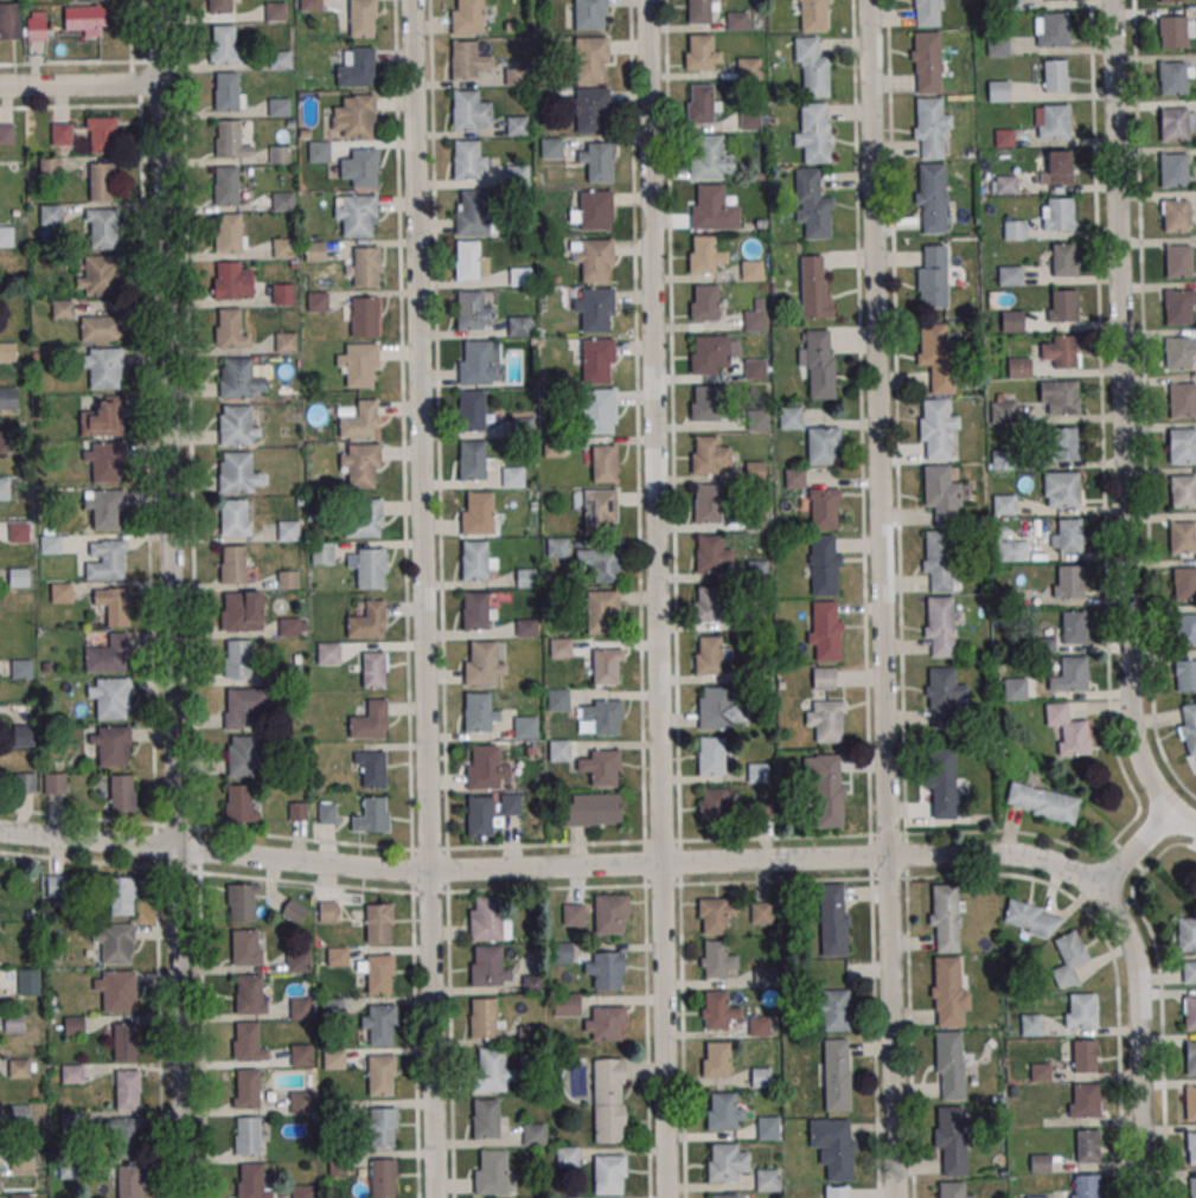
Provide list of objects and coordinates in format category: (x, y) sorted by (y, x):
building: (1168, 0)
building: (311, 5)
building: (1009, 5)
building: (219, 6)
building: (276, 11)
building: (701, 11)
building: (926, 13)
building: (590, 14)
building: (811, 15)
building: (362, 17)
building: (467, 17)
building: (9, 20)
building: (84, 20)
building: (736, 20)
building: (36, 30)
building: (1050, 30)
building: (1172, 31)
building: (222, 44)
building: (997, 46)
building: (702, 52)
building: (281, 59)
building: (465, 59)
building: (589, 59)
building: (926, 63)
building: (356, 65)
building: (811, 66)
building: (748, 68)
building: (1055, 75)
building: (516, 76)
building: (1172, 77)
road: (78, 84)
building: (998, 90)
building: (226, 91)
building: (701, 103)
building: (591, 109)
building: (466, 110)
building: (354, 116)
building: (749, 118)
building: (1050, 121)
building: (1173, 123)
building: (517, 124)
building: (930, 127)
building: (813, 132)
building: (62, 133)
building: (6, 134)
building: (101, 134)
building: (228, 139)
building: (551, 148)
building: (319, 150)
building: (280, 154)
building: (466, 159)
building: (709, 159)
building: (596, 161)
building: (50, 167)
building: (1055, 167)
building: (360, 168)
building: (1173, 169)
building: (517, 174)
building: (102, 181)
building: (1005, 185)
building: (225, 186)
building: (930, 196)
building: (274, 201)
building: (812, 205)
building: (712, 209)
building: (593, 211)
building: (472, 212)
building: (50, 214)
building: (357, 214)
building: (1057, 214)
building: (1176, 214)
building: (102, 228)
building: (1013, 229)
building: (229, 235)
building: (5, 236)
building: (283, 248)
building: (314, 251)
building: (705, 254)
building: (596, 258)
building: (1062, 258)
building: (468, 260)
building: (1178, 261)
building: (366, 265)
building: (750, 270)
building: (97, 275)
building: (1009, 275)
building: (517, 276)
building: (932, 277)
building: (234, 280)
building: (813, 288)
building: (282, 294)
building: (316, 301)
building: (704, 302)
building: (1062, 306)
building: (1177, 307)
building: (596, 308)
building: (471, 309)
building: (365, 315)
building: (754, 320)
building: (1011, 321)
building: (519, 326)
building: (230, 327)
building: (101, 328)
building: (286, 342)
road: (1099, 344)
road: (1143, 350)
building: (1060, 351)
building: (1177, 353)
building: (704, 354)
building: (935, 355)
building: (597, 359)
building: (477, 363)
building: (818, 364)
building: (359, 365)
building: (103, 366)
building: (1018, 367)
building: (755, 369)
building: (236, 378)
building: (1059, 396)
building: (8, 398)
building: (1183, 399)
building: (704, 403)
building: (472, 409)
building: (599, 410)
building: (1002, 412)
road: (1120, 412)
road: (895, 416)
building: (103, 417)
building: (789, 417)
road: (861, 417)
building: (360, 419)
building: (756, 421)
building: (236, 424)
road: (402, 424)
building: (935, 427)
building: (1064, 443)
road: (439, 444)
building: (823, 444)
building: (1183, 446)
building: (552, 451)
building: (705, 454)
building: (105, 460)
building: (472, 460)
building: (603, 462)
building: (360, 463)
building: (236, 472)
building: (513, 476)
building: (794, 478)
building: (4, 488)
building: (1061, 489)
building: (1183, 492)
building: (941, 494)
building: (708, 502)
building: (1004, 504)
building: (105, 507)
building: (823, 507)
building: (597, 510)
building: (480, 514)
building: (234, 517)
building: (364, 517)
building: (755, 520)
building: (288, 530)
building: (19, 532)
building: (1066, 536)
building: (1182, 538)
building: (557, 547)
building: (1011, 550)
building: (322, 553)
building: (709, 553)
building: (107, 559)
building: (475, 559)
building: (940, 560)
building: (599, 563)
building: (234, 564)
building: (824, 564)
building: (370, 568)
building: (756, 569)
building: (19, 577)
building: (526, 577)
building: (1068, 581)
building: (1184, 582)
building: (62, 592)
road: (168, 598)
road: (423, 598)
road: (657, 598)
road: (882, 598)
building: (706, 603)
building: (114, 604)
building: (242, 610)
building: (477, 610)
building: (601, 611)
building: (367, 620)
building: (940, 626)
building: (292, 627)
building: (526, 627)
building: (1074, 627)
building: (1184, 628)
building: (824, 629)
building: (561, 647)
building: (330, 653)
building: (109, 655)
building: (709, 655)
building: (237, 659)
building: (481, 664)
building: (607, 666)
building: (373, 670)
building: (1072, 672)
building: (1185, 674)
building: (823, 678)
building: (1015, 688)
building: (110, 697)
building: (942, 697)
building: (558, 699)
building: (244, 706)
building: (719, 709)
building: (478, 711)
building: (603, 715)
building: (370, 719)
building: (826, 719)
building: (1187, 726)
building: (525, 728)
building: (1068, 730)
building: (23, 735)
building: (111, 744)
building: (559, 750)
building: (244, 755)
building: (714, 755)
building: (601, 767)
building: (372, 768)
building: (484, 768)
building: (757, 771)
building: (26, 782)
building: (942, 782)
building: (55, 783)
building: (827, 787)
building: (122, 793)
building: (1042, 802)
building: (241, 805)
building: (712, 806)
building: (593, 809)
building: (327, 812)
building: (372, 815)
building: (480, 815)
road: (1184, 821)
road: (450, 846)
road: (1132, 854)
road: (550, 865)
road: (228, 875)
road: (430, 891)
building: (122, 895)
building: (243, 902)
building: (294, 910)
building: (328, 911)
building: (761, 912)
building: (574, 914)
building: (610, 914)
building: (715, 915)
building: (946, 917)
building: (1030, 917)
building: (487, 920)
building: (833, 920)
building: (379, 922)
building: (1187, 934)
building: (114, 943)
building: (247, 947)
building: (563, 953)
building: (338, 956)
building: (717, 960)
building: (1068, 960)
building: (299, 961)
building: (488, 965)
building: (605, 968)
building: (1189, 972)
building: (379, 973)
building: (763, 975)
building: (28, 981)
building: (116, 989)
building: (948, 991)
building: (250, 994)
building: (567, 1004)
building: (301, 1008)
building: (833, 1008)
building: (717, 1010)
building: (1080, 1010)
building: (1190, 1012)
building: (485, 1017)
building: (14, 1023)
building: (382, 1023)
building: (73, 1024)
building: (605, 1024)
building: (759, 1025)
building: (1030, 1025)
road: (1138, 1038)
building: (126, 1040)
building: (245, 1040)
building: (298, 1055)
building: (1083, 1055)
building: (1191, 1057)
building: (334, 1058)
building: (716, 1058)
building: (949, 1065)
building: (19, 1068)
building: (492, 1070)
building: (72, 1072)
building: (382, 1075)
building: (837, 1075)
building: (761, 1077)
building: (247, 1088)
building: (128, 1089)
building: (608, 1100)
building: (1085, 1100)
building: (301, 1102)
building: (1190, 1102)
building: (725, 1111)
building: (20, 1114)
building: (486, 1119)
building: (70, 1121)
building: (380, 1127)
building: (767, 1128)
building: (535, 1134)
building: (248, 1135)
building: (126, 1138)
building: (951, 1140)
building: (1087, 1146)
building: (833, 1147)
building: (1192, 1148)
building: (567, 1155)
building: (725, 1162)
building: (493, 1172)
building: (608, 1174)
building: (382, 1177)
building: (767, 1179)
building: (250, 1180)
building: (130, 1181)
building: (1086, 1185)
building: (1192, 1187)
building: (951, 1190)
building: (302, 1191)
building: (838, 1192)
building: (19, 1196)
building: (725, 1196)

